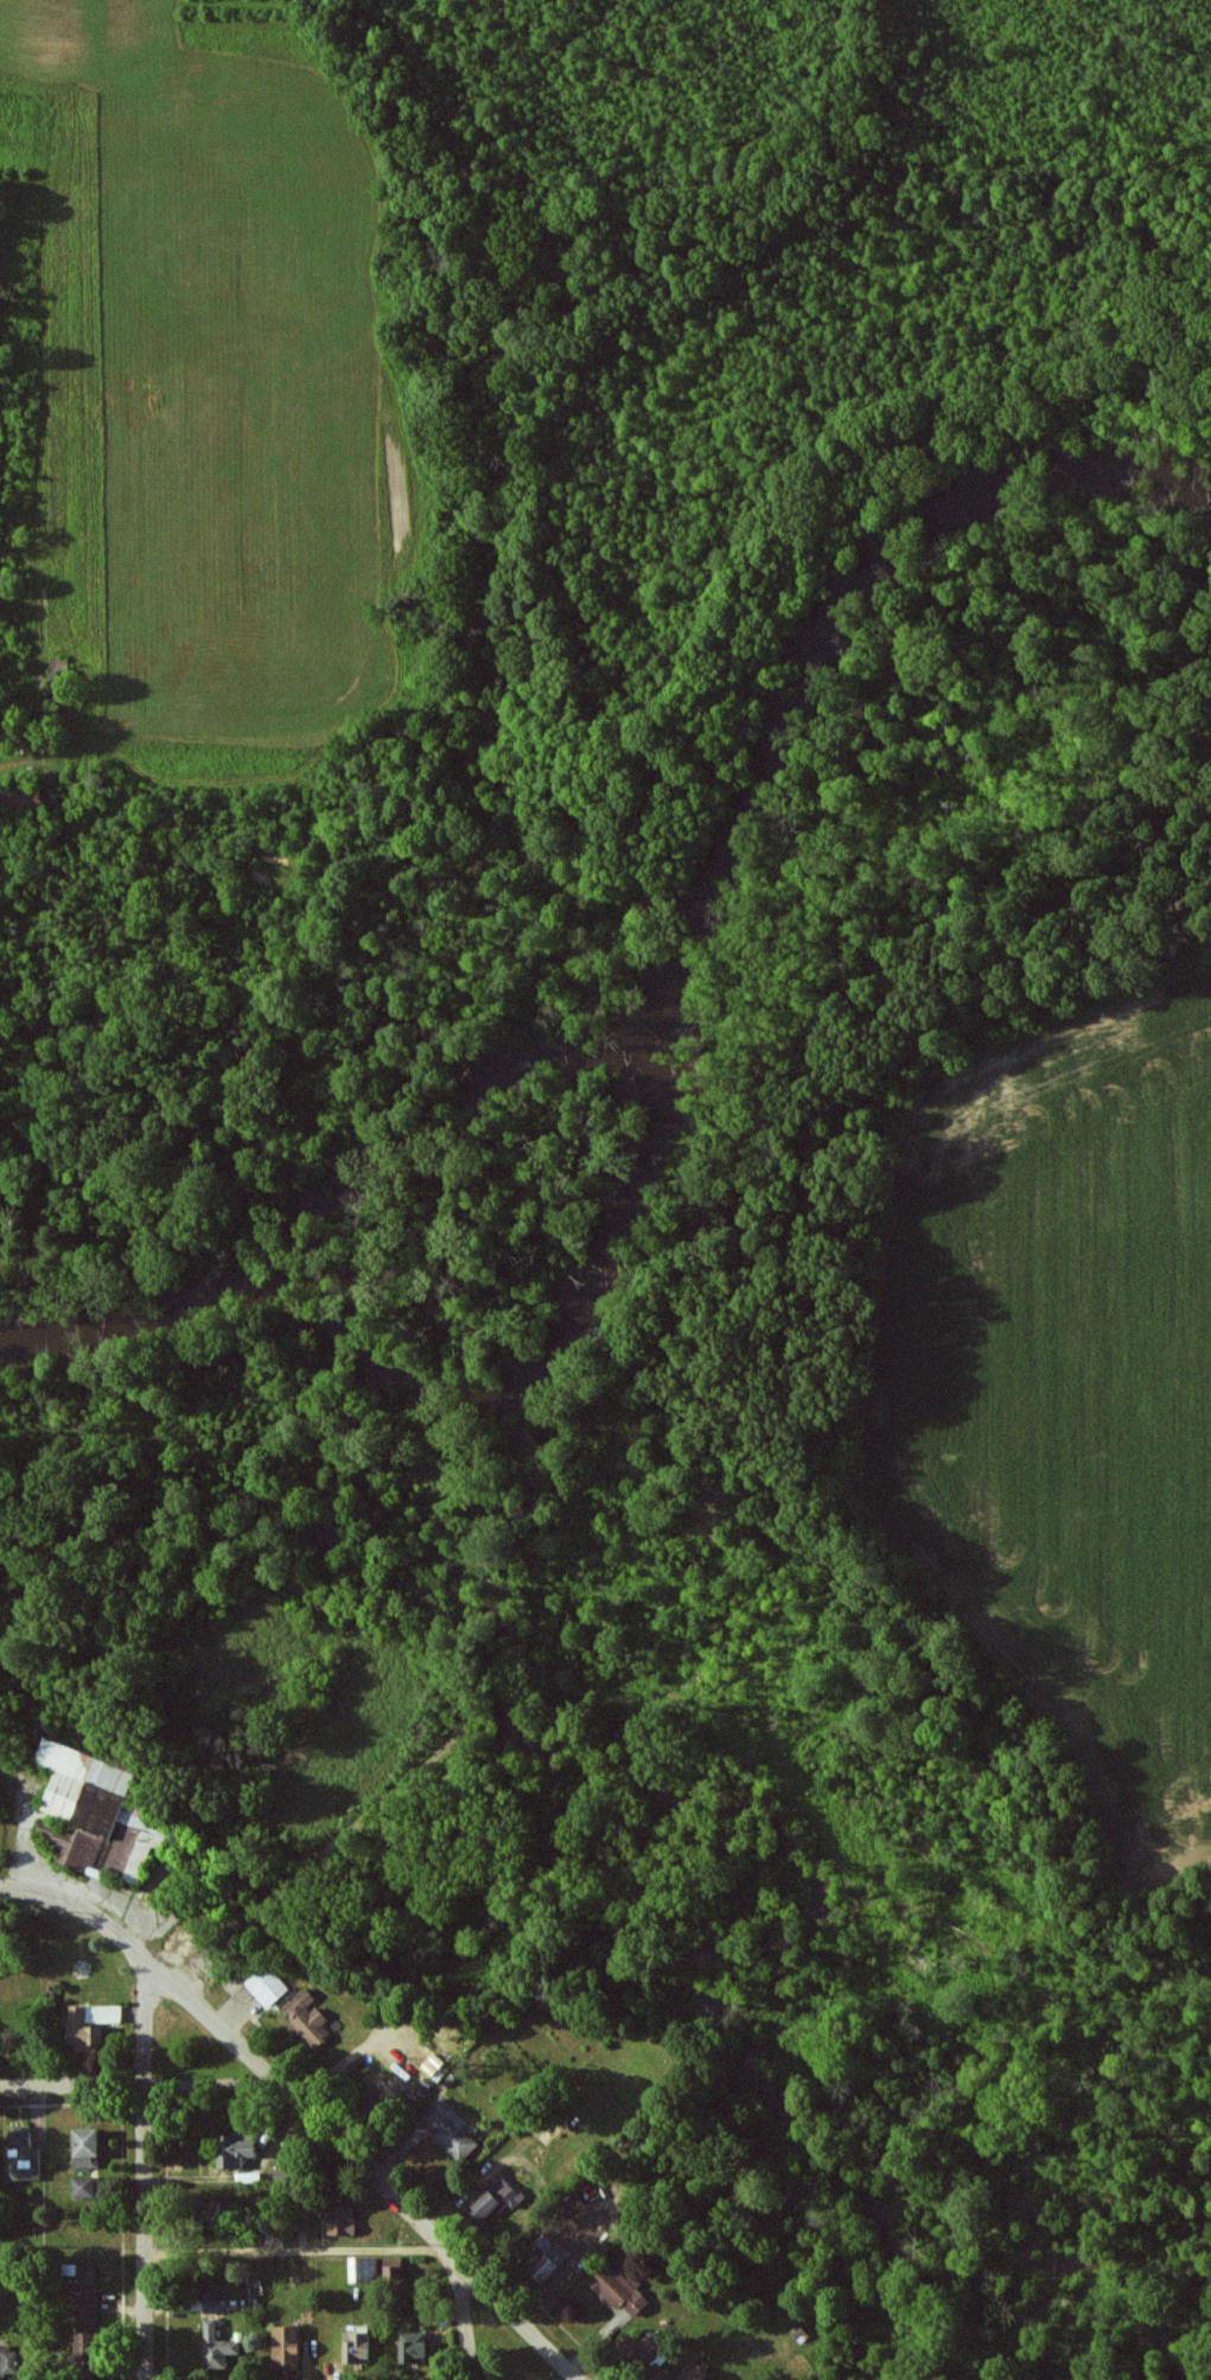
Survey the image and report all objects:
building: (57, 664)
building: (23, 801)
river: (659, 1058)
building: (96, 1814)
road: (78, 1910)
building: (212, 1958)
building: (268, 1985)
building: (307, 2018)
building: (83, 2032)
road: (140, 2085)
building: (451, 2130)
building: (88, 2149)
building: (237, 2149)
building: (23, 2155)
road: (363, 2165)
road: (142, 2166)
building: (83, 2187)
building: (495, 2200)
building: (343, 2220)
road: (297, 2252)
building: (548, 2265)
building: (394, 2268)
building: (365, 2270)
building: (620, 2290)
building: (87, 2306)
building: (213, 2306)
road: (463, 2316)
building: (217, 2347)
building: (288, 2347)
building: (413, 2347)
building: (358, 2348)
building: (648, 2348)
building: (88, 2349)
building: (8, 2360)
building: (694, 2372)

